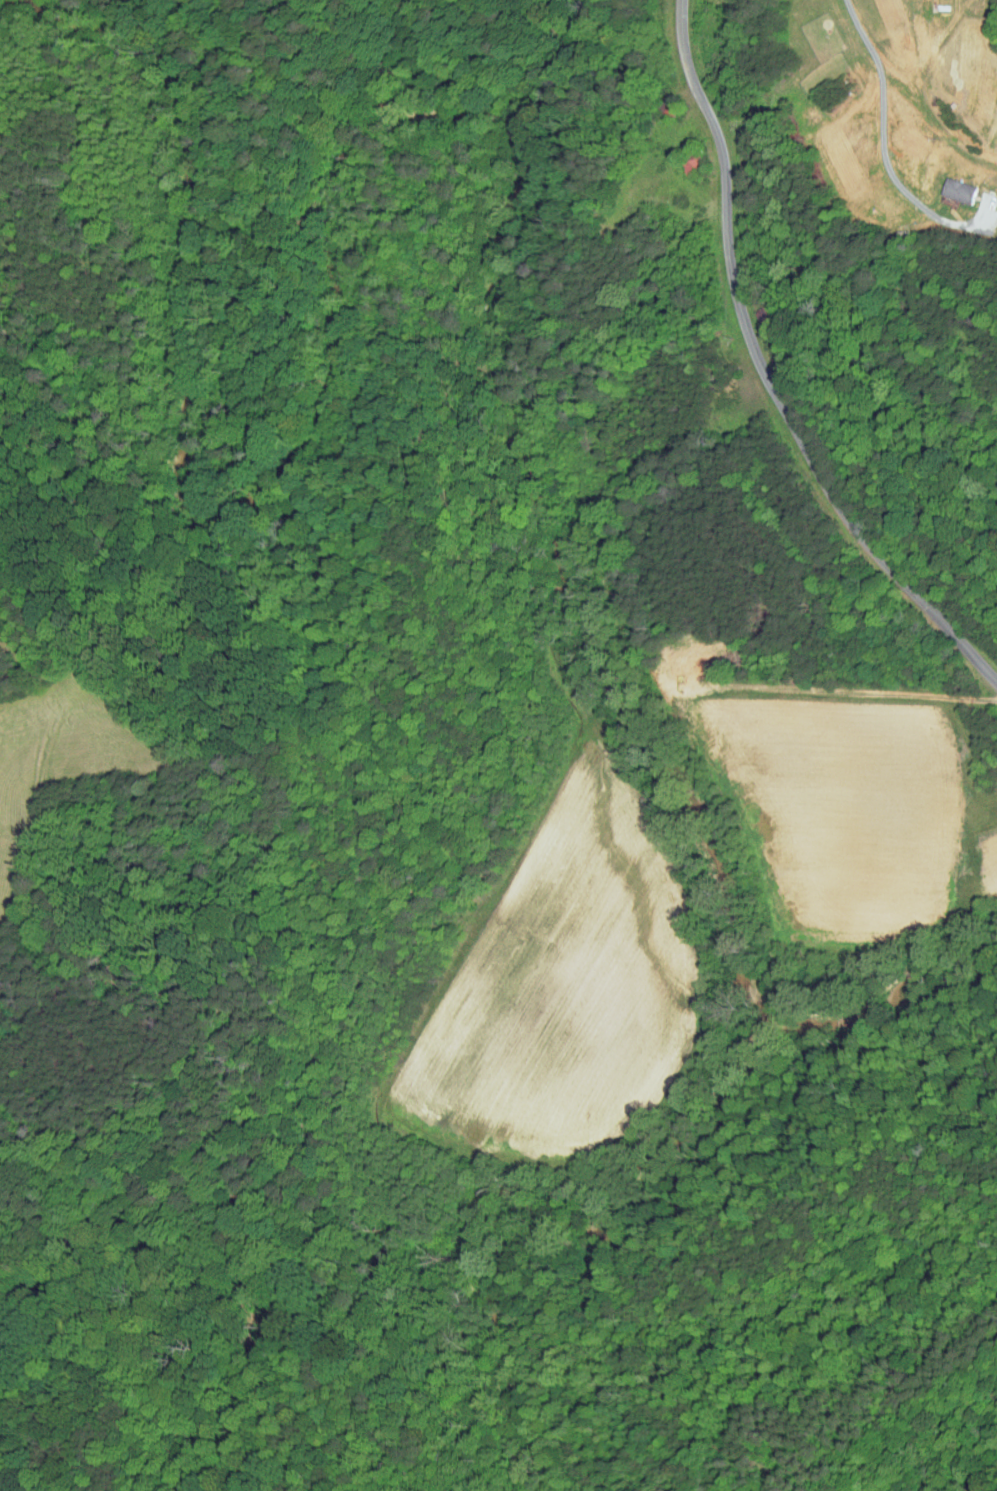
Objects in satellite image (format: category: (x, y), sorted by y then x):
building: (732, 29)
building: (668, 105)
road: (879, 135)
building: (692, 158)
building: (946, 186)
road: (765, 373)
road: (444, 1367)
road: (280, 1375)
road: (66, 1456)

